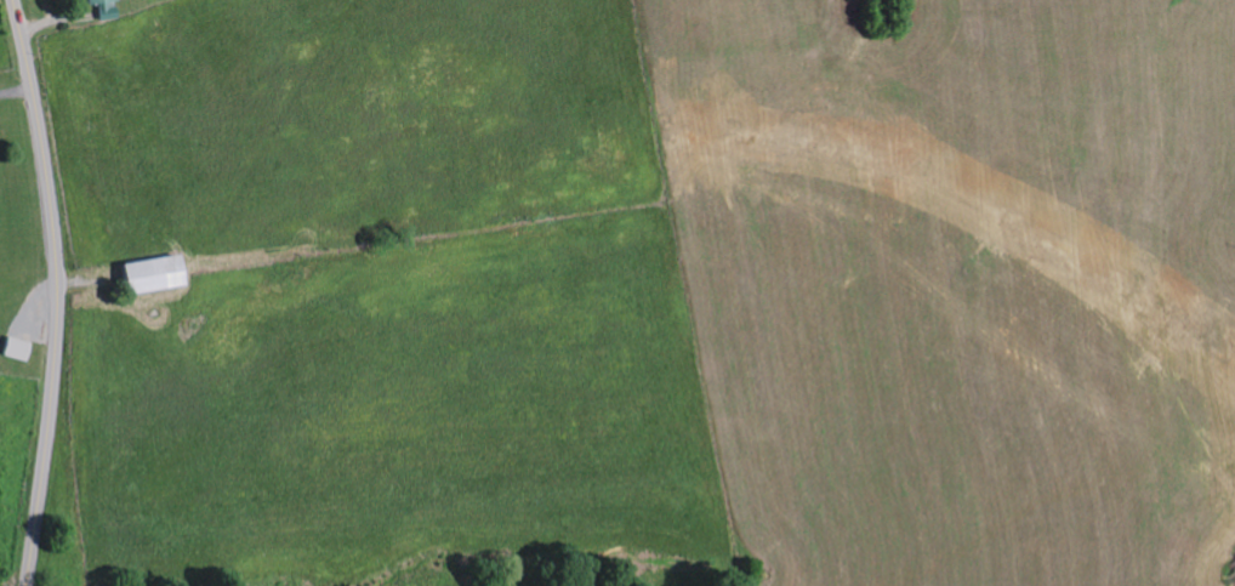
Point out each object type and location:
building: (101, 7)
building: (144, 274)
road: (58, 291)
building: (13, 348)

